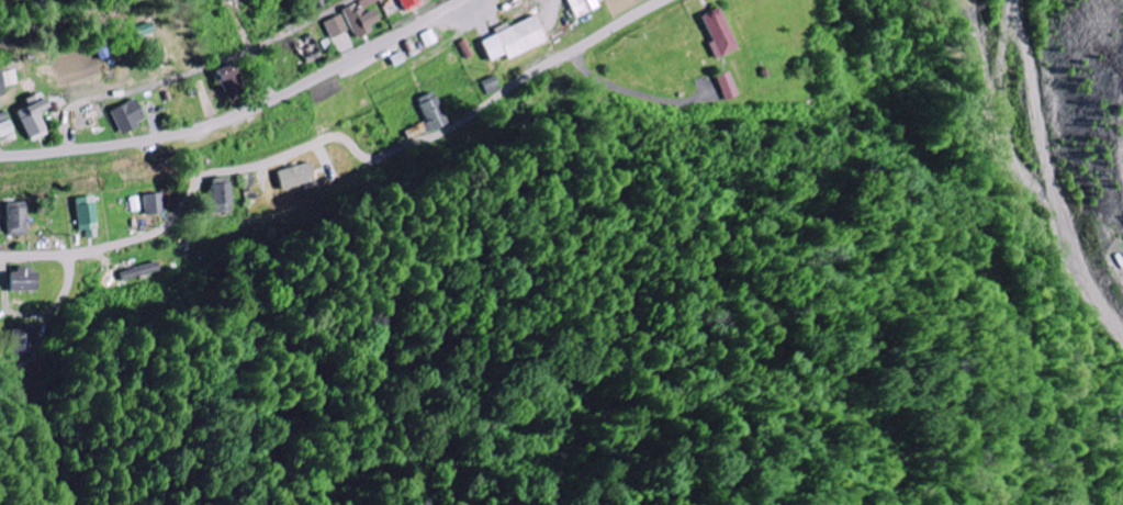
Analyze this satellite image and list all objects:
building: (414, 4)
building: (587, 5)
building: (362, 18)
road: (622, 25)
building: (338, 26)
building: (145, 29)
building: (722, 33)
building: (518, 40)
road: (196, 71)
building: (232, 75)
road: (269, 75)
building: (1, 85)
building: (733, 85)
road: (630, 89)
building: (130, 115)
road: (247, 115)
building: (35, 116)
road: (292, 154)
building: (301, 176)
building: (226, 194)
building: (158, 203)
building: (89, 215)
building: (18, 218)
building: (147, 271)
building: (25, 280)
building: (24, 341)

